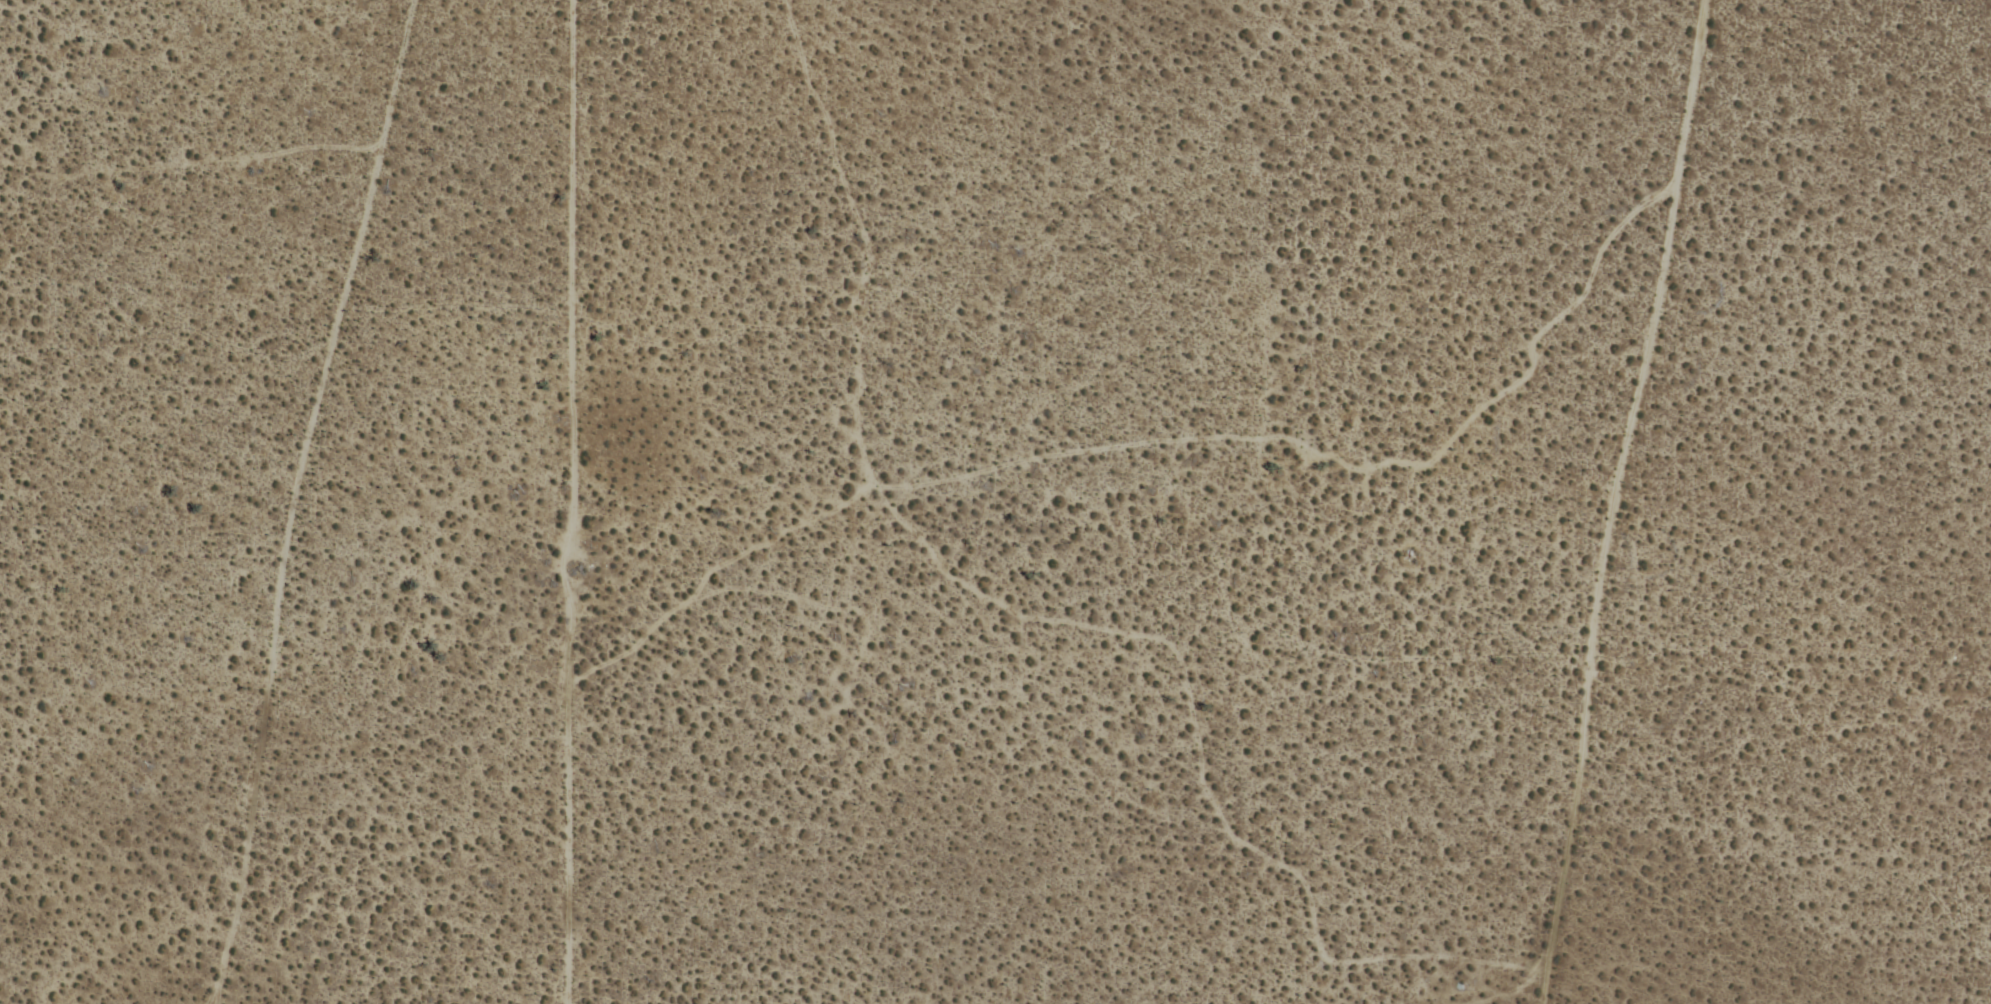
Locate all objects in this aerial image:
road: (559, 502)

